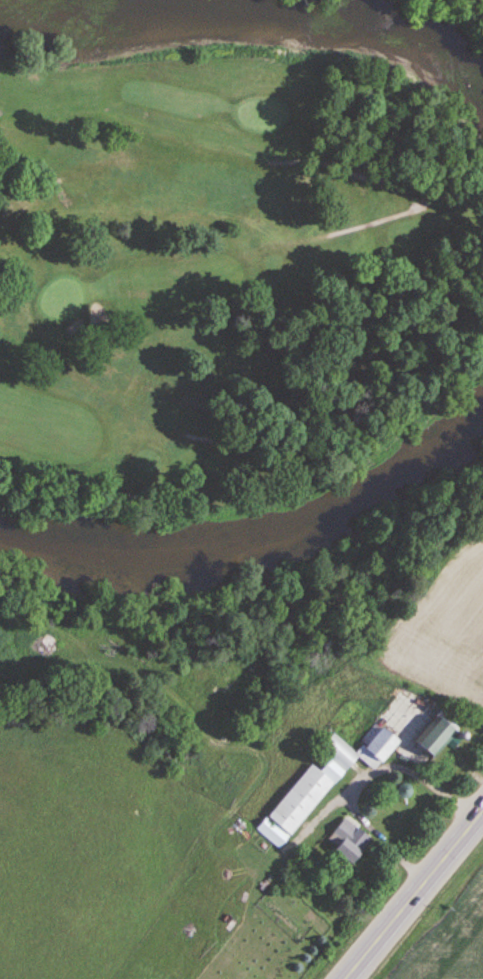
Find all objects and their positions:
river: (250, 22)
park: (227, 273)
river: (263, 538)
building: (438, 731)
building: (458, 735)
building: (380, 743)
building: (339, 751)
building: (332, 770)
road: (359, 776)
building: (403, 790)
building: (300, 798)
road: (315, 822)
building: (272, 831)
building: (348, 840)
road: (414, 893)

